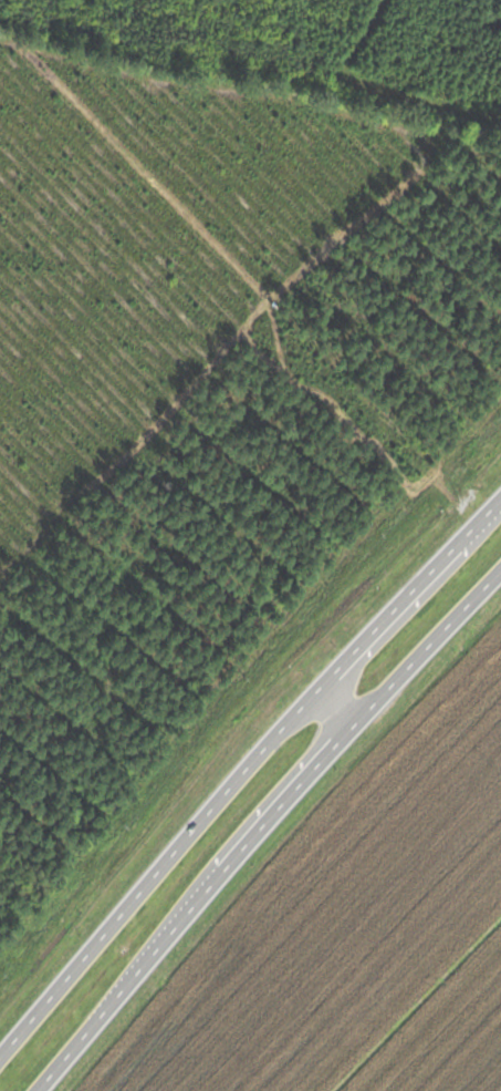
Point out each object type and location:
road: (405, 604)
road: (324, 723)
road: (264, 828)
road: (154, 878)

